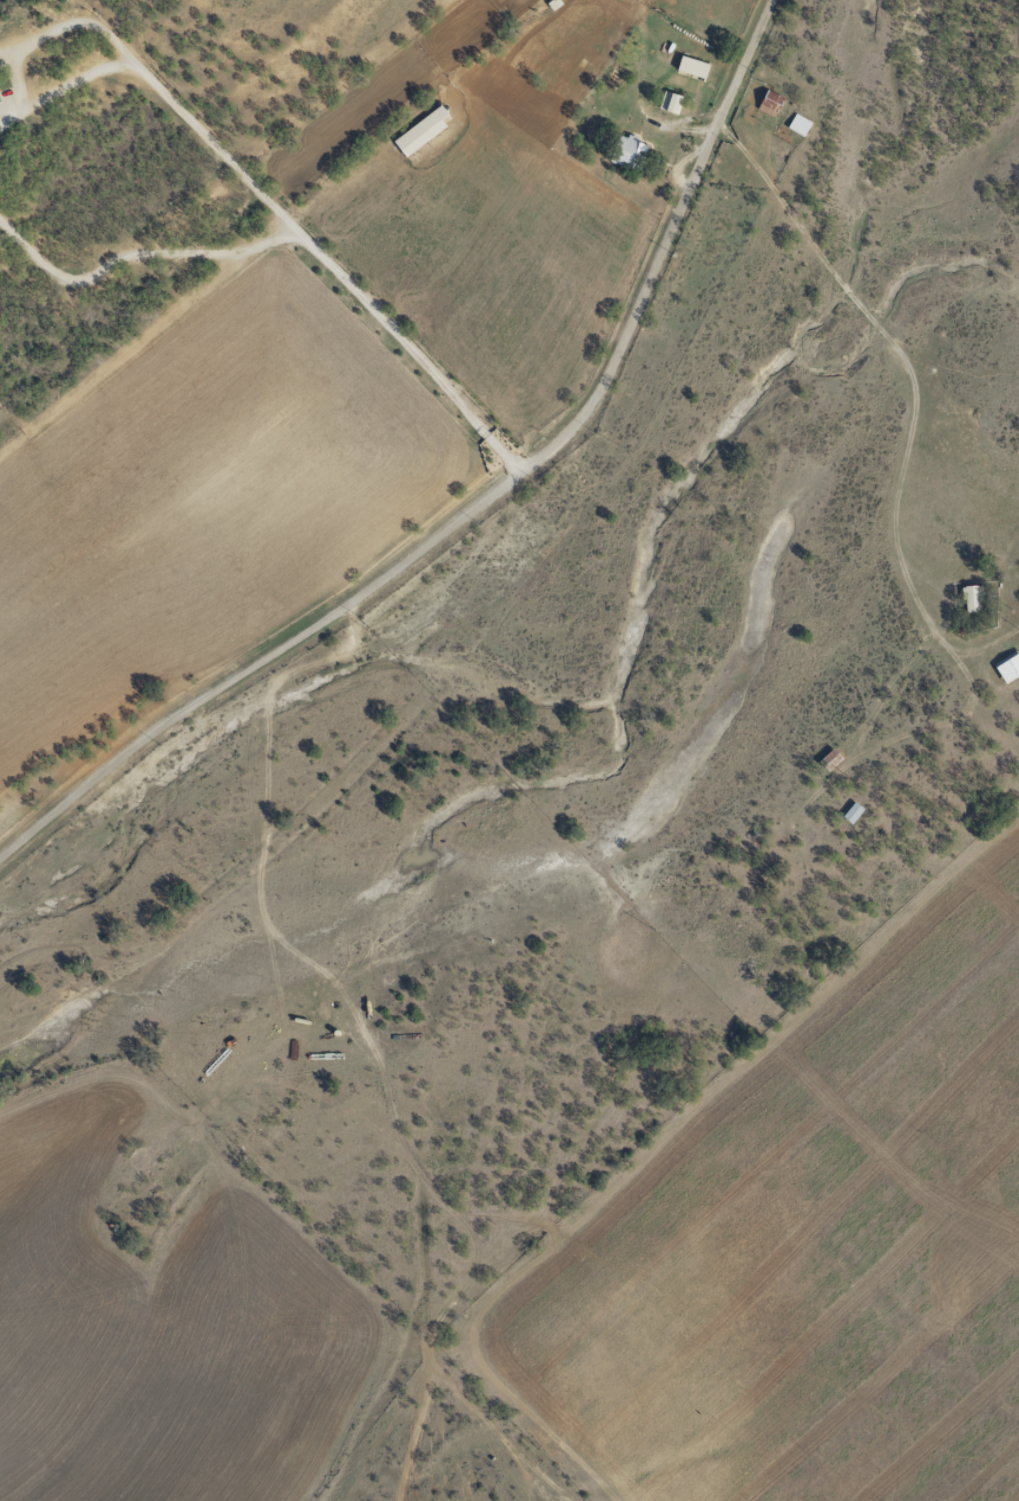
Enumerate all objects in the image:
road: (72, 22)
building: (692, 68)
building: (0, 101)
building: (669, 102)
building: (769, 103)
building: (798, 125)
building: (421, 131)
building: (629, 151)
railway: (244, 197)
road: (275, 211)
road: (135, 252)
road: (476, 504)
building: (971, 598)
building: (1007, 666)
building: (829, 759)
building: (852, 812)
crop: (814, 1251)
crop: (158, 1329)

